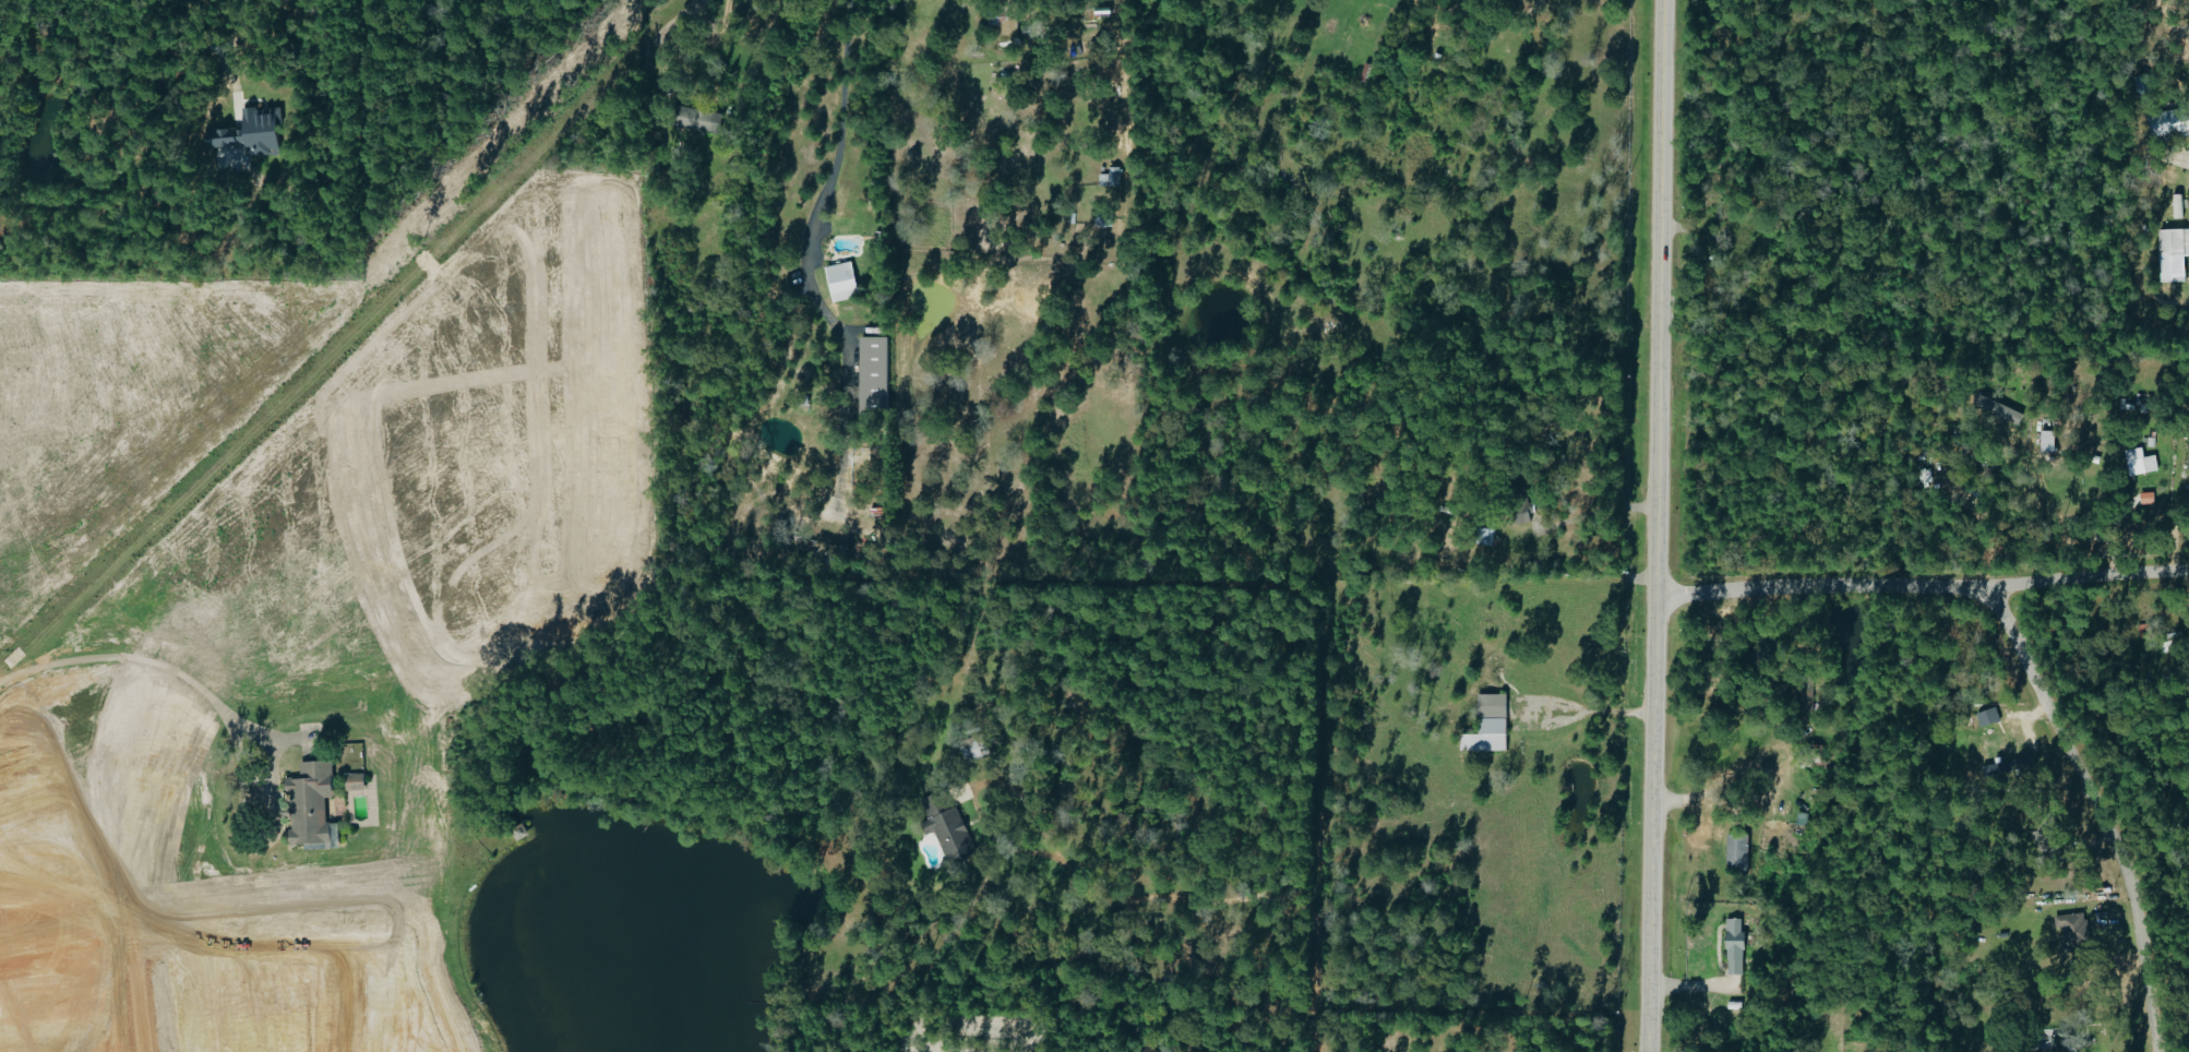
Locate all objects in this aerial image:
road: (696, 7)
road: (1476, 15)
road: (227, 58)
road: (1121, 94)
building: (701, 120)
building: (2173, 122)
building: (250, 138)
road: (835, 162)
building: (2180, 206)
building: (2175, 252)
building: (845, 282)
building: (877, 375)
building: (2002, 410)
building: (2050, 441)
building: (2141, 462)
road: (1602, 512)
road: (1655, 526)
road: (1922, 587)
road: (149, 666)
building: (1802, 689)
road: (1601, 714)
building: (1989, 717)
building: (1491, 726)
building: (1814, 755)
building: (2011, 767)
road: (1721, 781)
building: (357, 782)
building: (313, 808)
road: (2100, 812)
building: (949, 828)
building: (2048, 834)
building: (1739, 851)
road: (1243, 899)
building: (1736, 946)
building: (1149, 1050)

